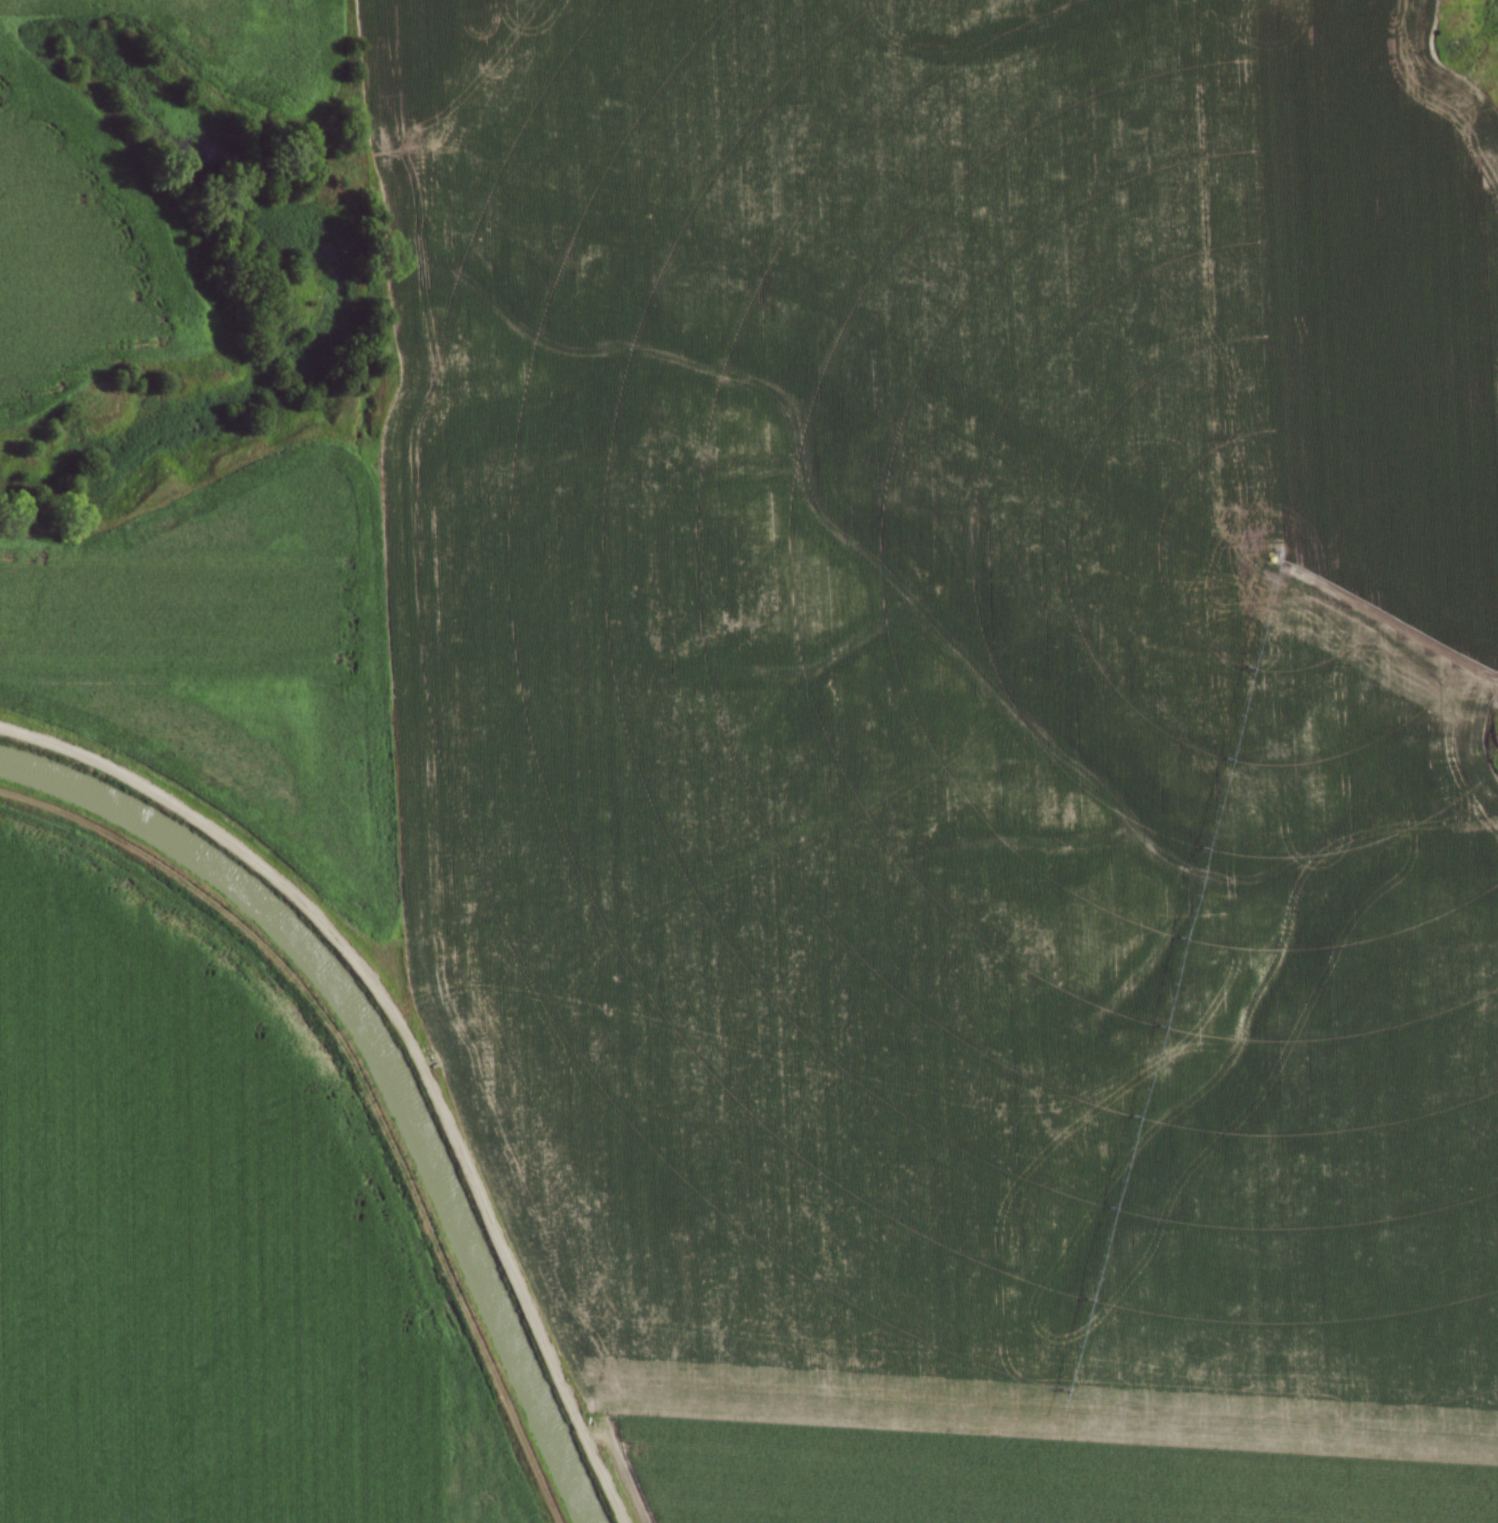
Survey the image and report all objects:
road: (408, 1041)

